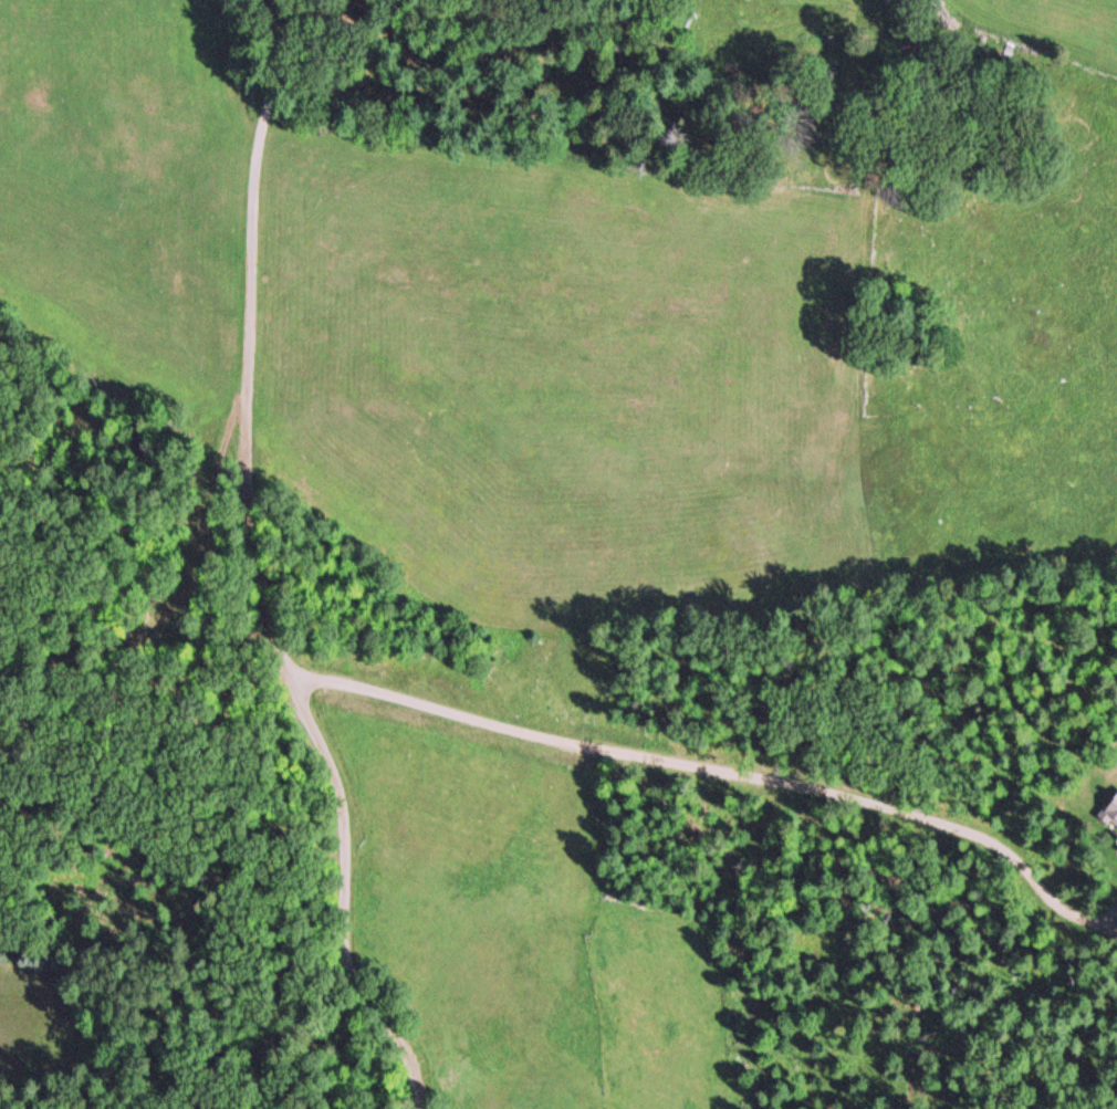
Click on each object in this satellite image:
road: (251, 573)
road: (720, 773)

